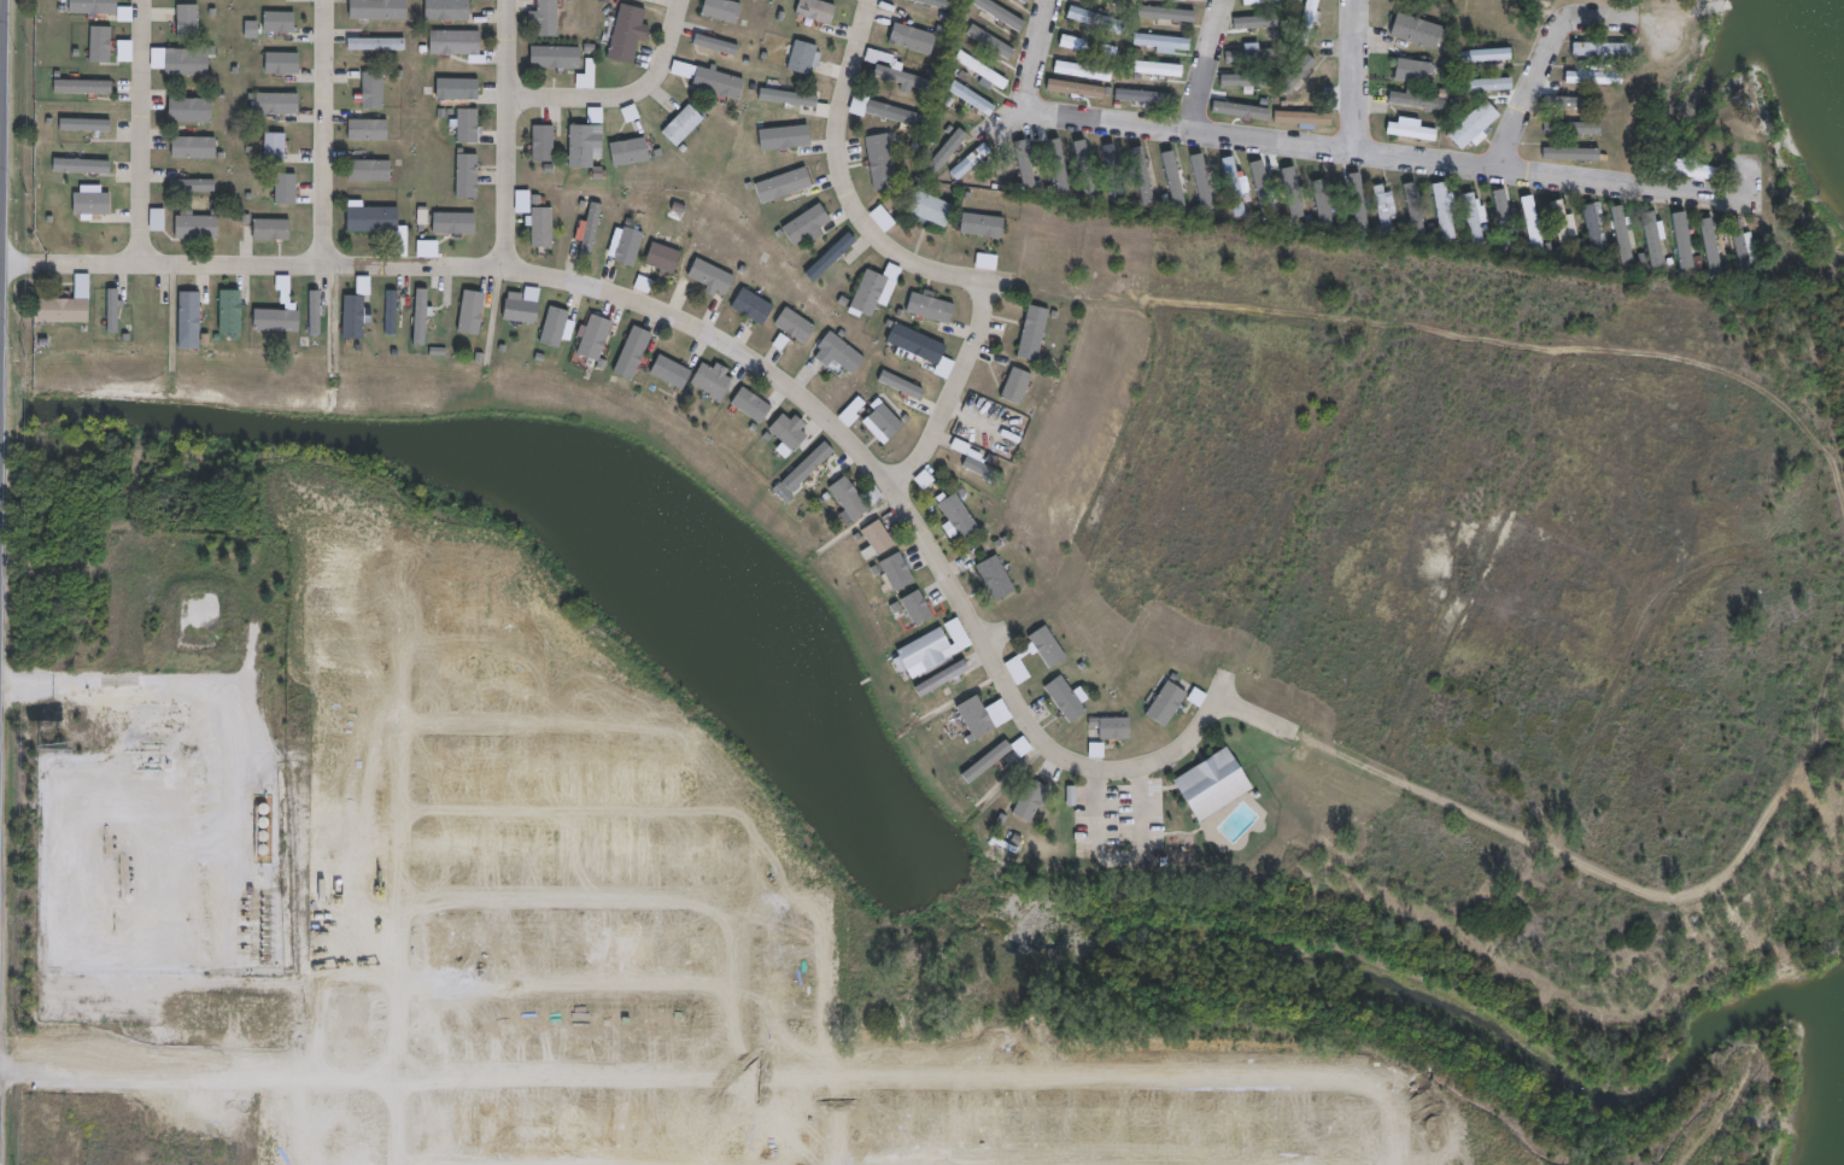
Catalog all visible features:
building: (1024, 0)
building: (1029, 1)
building: (1271, 1)
building: (935, 2)
building: (1124, 2)
building: (381, 10)
building: (449, 10)
building: (726, 11)
building: (1005, 13)
building: (1172, 14)
building: (548, 18)
building: (279, 21)
building: (1102, 21)
building: (1258, 22)
building: (1312, 23)
building: (1415, 31)
building: (631, 35)
building: (458, 42)
building: (995, 42)
building: (1166, 42)
building: (100, 43)
building: (377, 45)
building: (718, 45)
building: (1093, 47)
road: (1552, 51)
building: (1598, 51)
road: (1042, 52)
building: (1254, 55)
building: (561, 57)
building: (1486, 57)
building: (806, 58)
building: (269, 60)
building: (186, 64)
road: (1201, 64)
building: (1158, 69)
building: (1087, 71)
building: (900, 72)
building: (988, 72)
building: (1412, 72)
road: (1358, 74)
building: (590, 76)
building: (1594, 78)
building: (1245, 81)
building: (721, 83)
building: (83, 86)
building: (1477, 87)
building: (459, 89)
building: (374, 90)
building: (1083, 96)
road: (631, 98)
building: (790, 98)
building: (1148, 98)
building: (976, 99)
building: (277, 101)
building: (1573, 101)
building: (1413, 103)
building: (195, 106)
building: (1292, 106)
building: (900, 115)
building: (83, 123)
building: (1470, 125)
building: (686, 127)
building: (472, 128)
building: (1570, 129)
road: (332, 131)
road: (148, 133)
building: (1409, 133)
road: (511, 135)
building: (785, 140)
building: (192, 145)
building: (546, 145)
building: (585, 147)
road: (1392, 152)
building: (633, 153)
building: (1576, 154)
building: (886, 160)
building: (974, 162)
building: (1028, 163)
building: (81, 164)
building: (1059, 166)
building: (1090, 169)
building: (1686, 170)
building: (1119, 174)
building: (469, 177)
building: (1149, 178)
road: (841, 181)
building: (1179, 182)
building: (1207, 182)
building: (786, 185)
building: (285, 186)
building: (1233, 186)
building: (1260, 189)
building: (1321, 195)
building: (1289, 197)
building: (526, 200)
building: (1358, 200)
building: (92, 201)
building: (932, 206)
building: (1382, 209)
building: (1409, 212)
building: (1441, 212)
building: (882, 217)
building: (1471, 217)
building: (381, 222)
building: (195, 223)
building: (456, 223)
building: (809, 223)
building: (987, 224)
building: (1505, 226)
building: (270, 227)
building: (545, 227)
building: (590, 228)
building: (1532, 228)
building: (1563, 228)
building: (1593, 233)
building: (1621, 236)
building: (1651, 239)
building: (1681, 240)
building: (632, 245)
building: (1740, 245)
building: (1711, 246)
building: (666, 259)
road: (23, 267)
road: (1, 271)
building: (1254, 275)
building: (713, 276)
building: (872, 293)
building: (754, 306)
building: (936, 308)
building: (65, 309)
building: (525, 309)
building: (113, 311)
building: (433, 311)
building: (233, 312)
building: (316, 312)
building: (393, 312)
building: (472, 312)
building: (352, 316)
building: (188, 318)
building: (279, 318)
building: (795, 324)
building: (1037, 333)
building: (598, 334)
building: (919, 343)
building: (843, 351)
building: (632, 352)
road: (744, 353)
building: (671, 373)
building: (715, 380)
building: (1020, 386)
road: (955, 392)
building: (754, 405)
building: (853, 410)
building: (889, 421)
building: (791, 435)
building: (988, 469)
building: (803, 470)
building: (923, 479)
building: (853, 498)
building: (961, 516)
building: (882, 538)
building: (902, 574)
building: (1000, 578)
building: (920, 608)
building: (1052, 648)
building: (935, 649)
road: (168, 668)
building: (950, 675)
building: (1072, 698)
building: (1171, 702)
road: (1263, 716)
building: (980, 718)
building: (1117, 727)
building: (990, 762)
building: (1217, 784)
building: (1034, 800)
road: (1113, 857)

